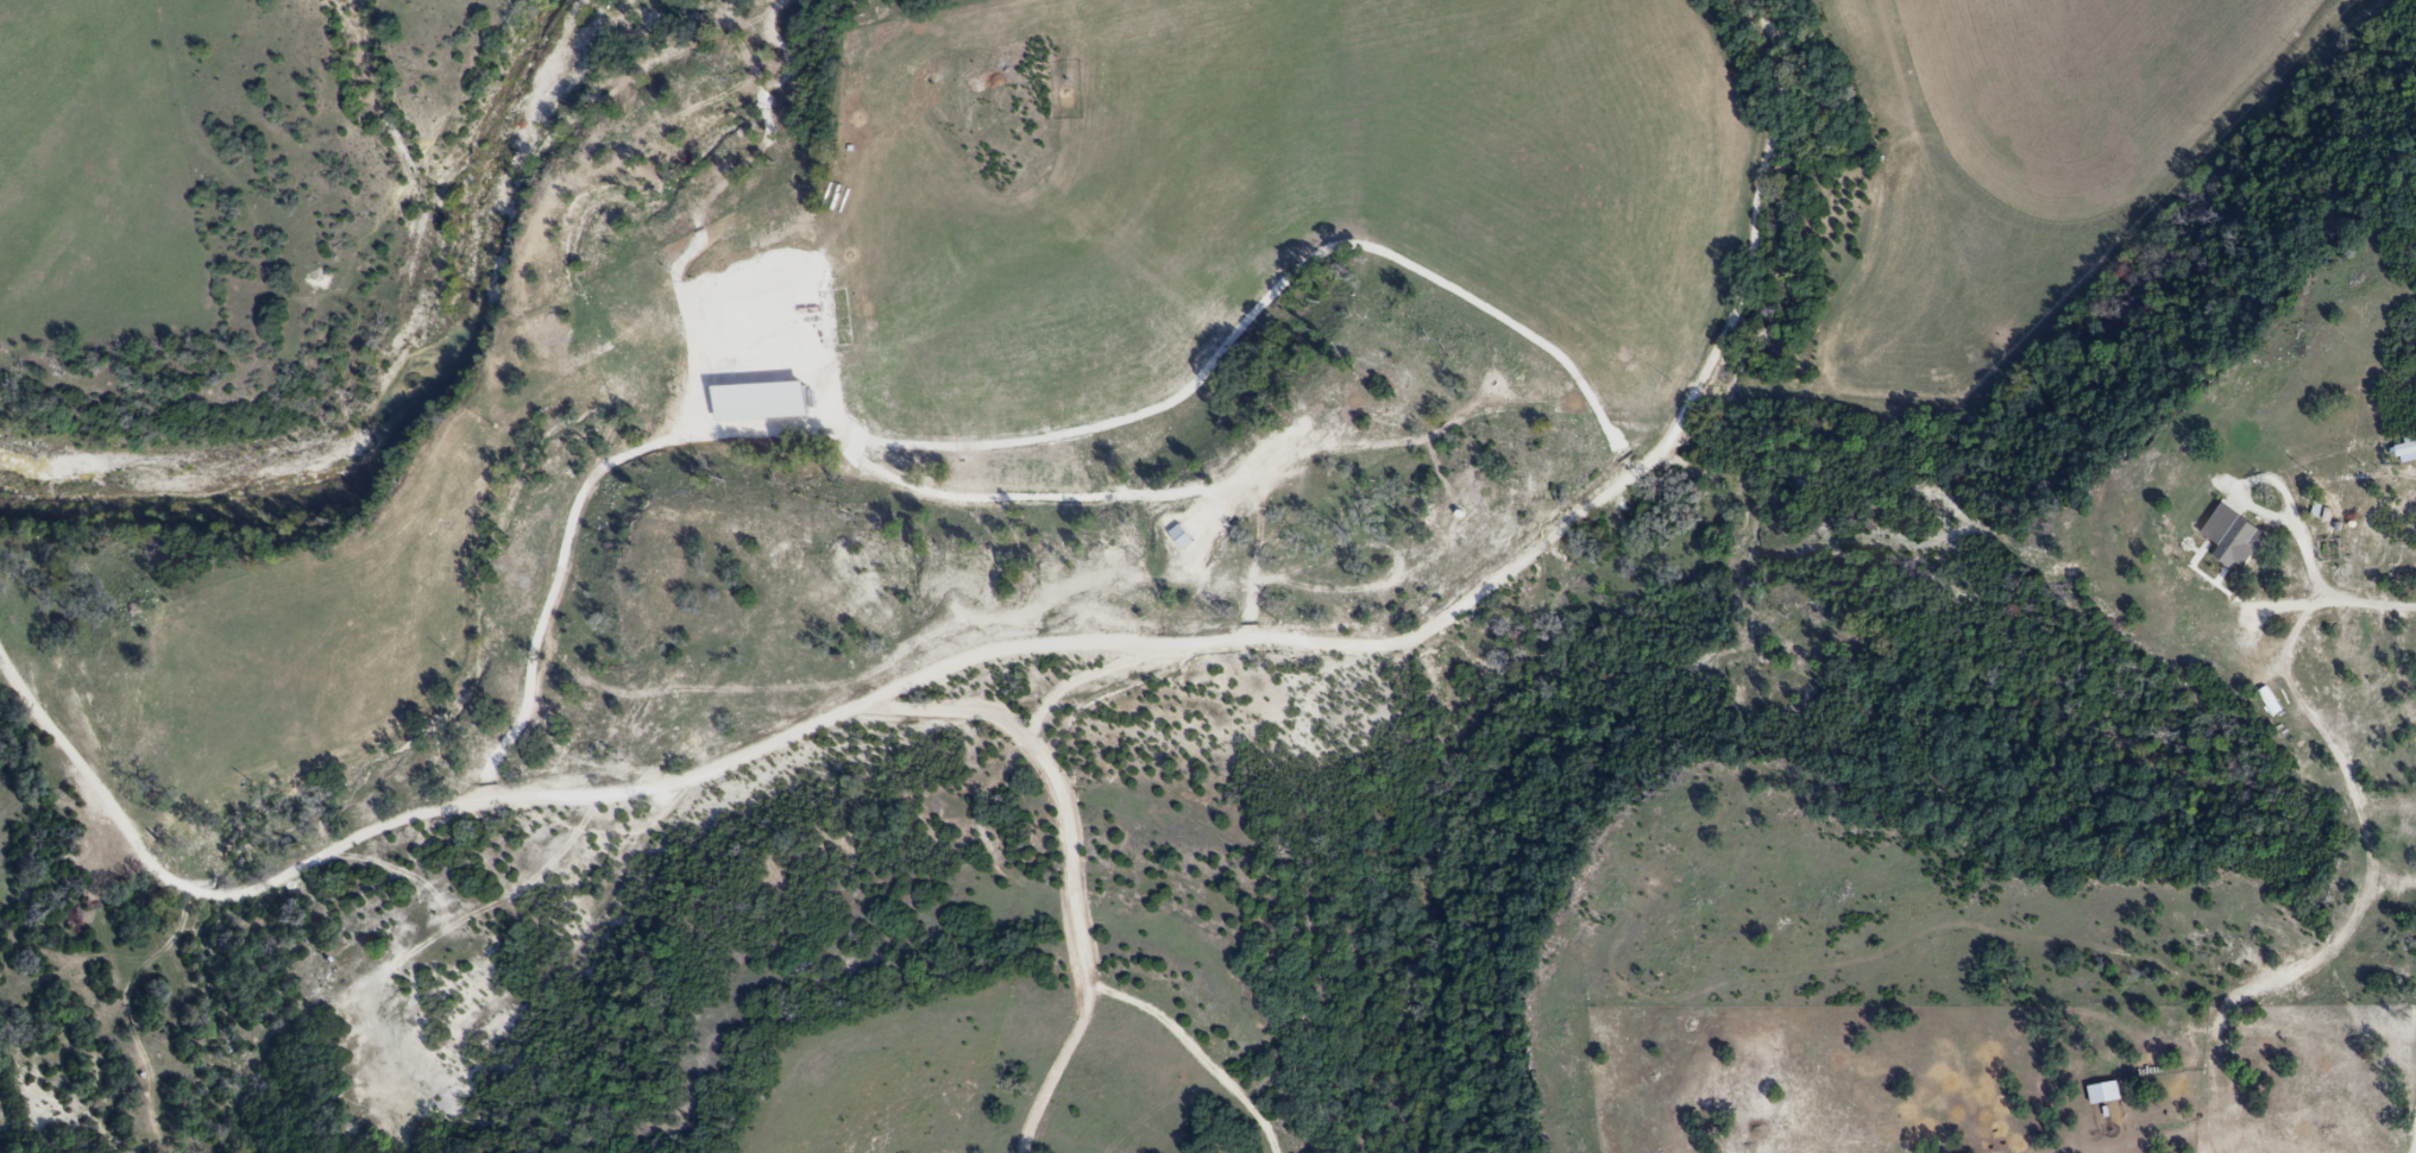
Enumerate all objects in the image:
road: (1025, 634)

